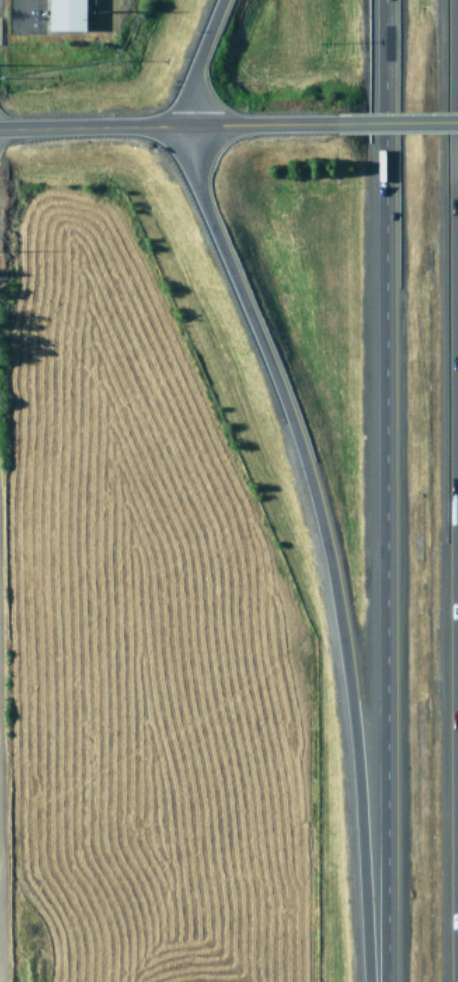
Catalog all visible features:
building: (64, 15)
road: (198, 61)
road: (405, 123)
road: (271, 125)
road: (95, 127)
road: (383, 491)
road: (323, 544)

